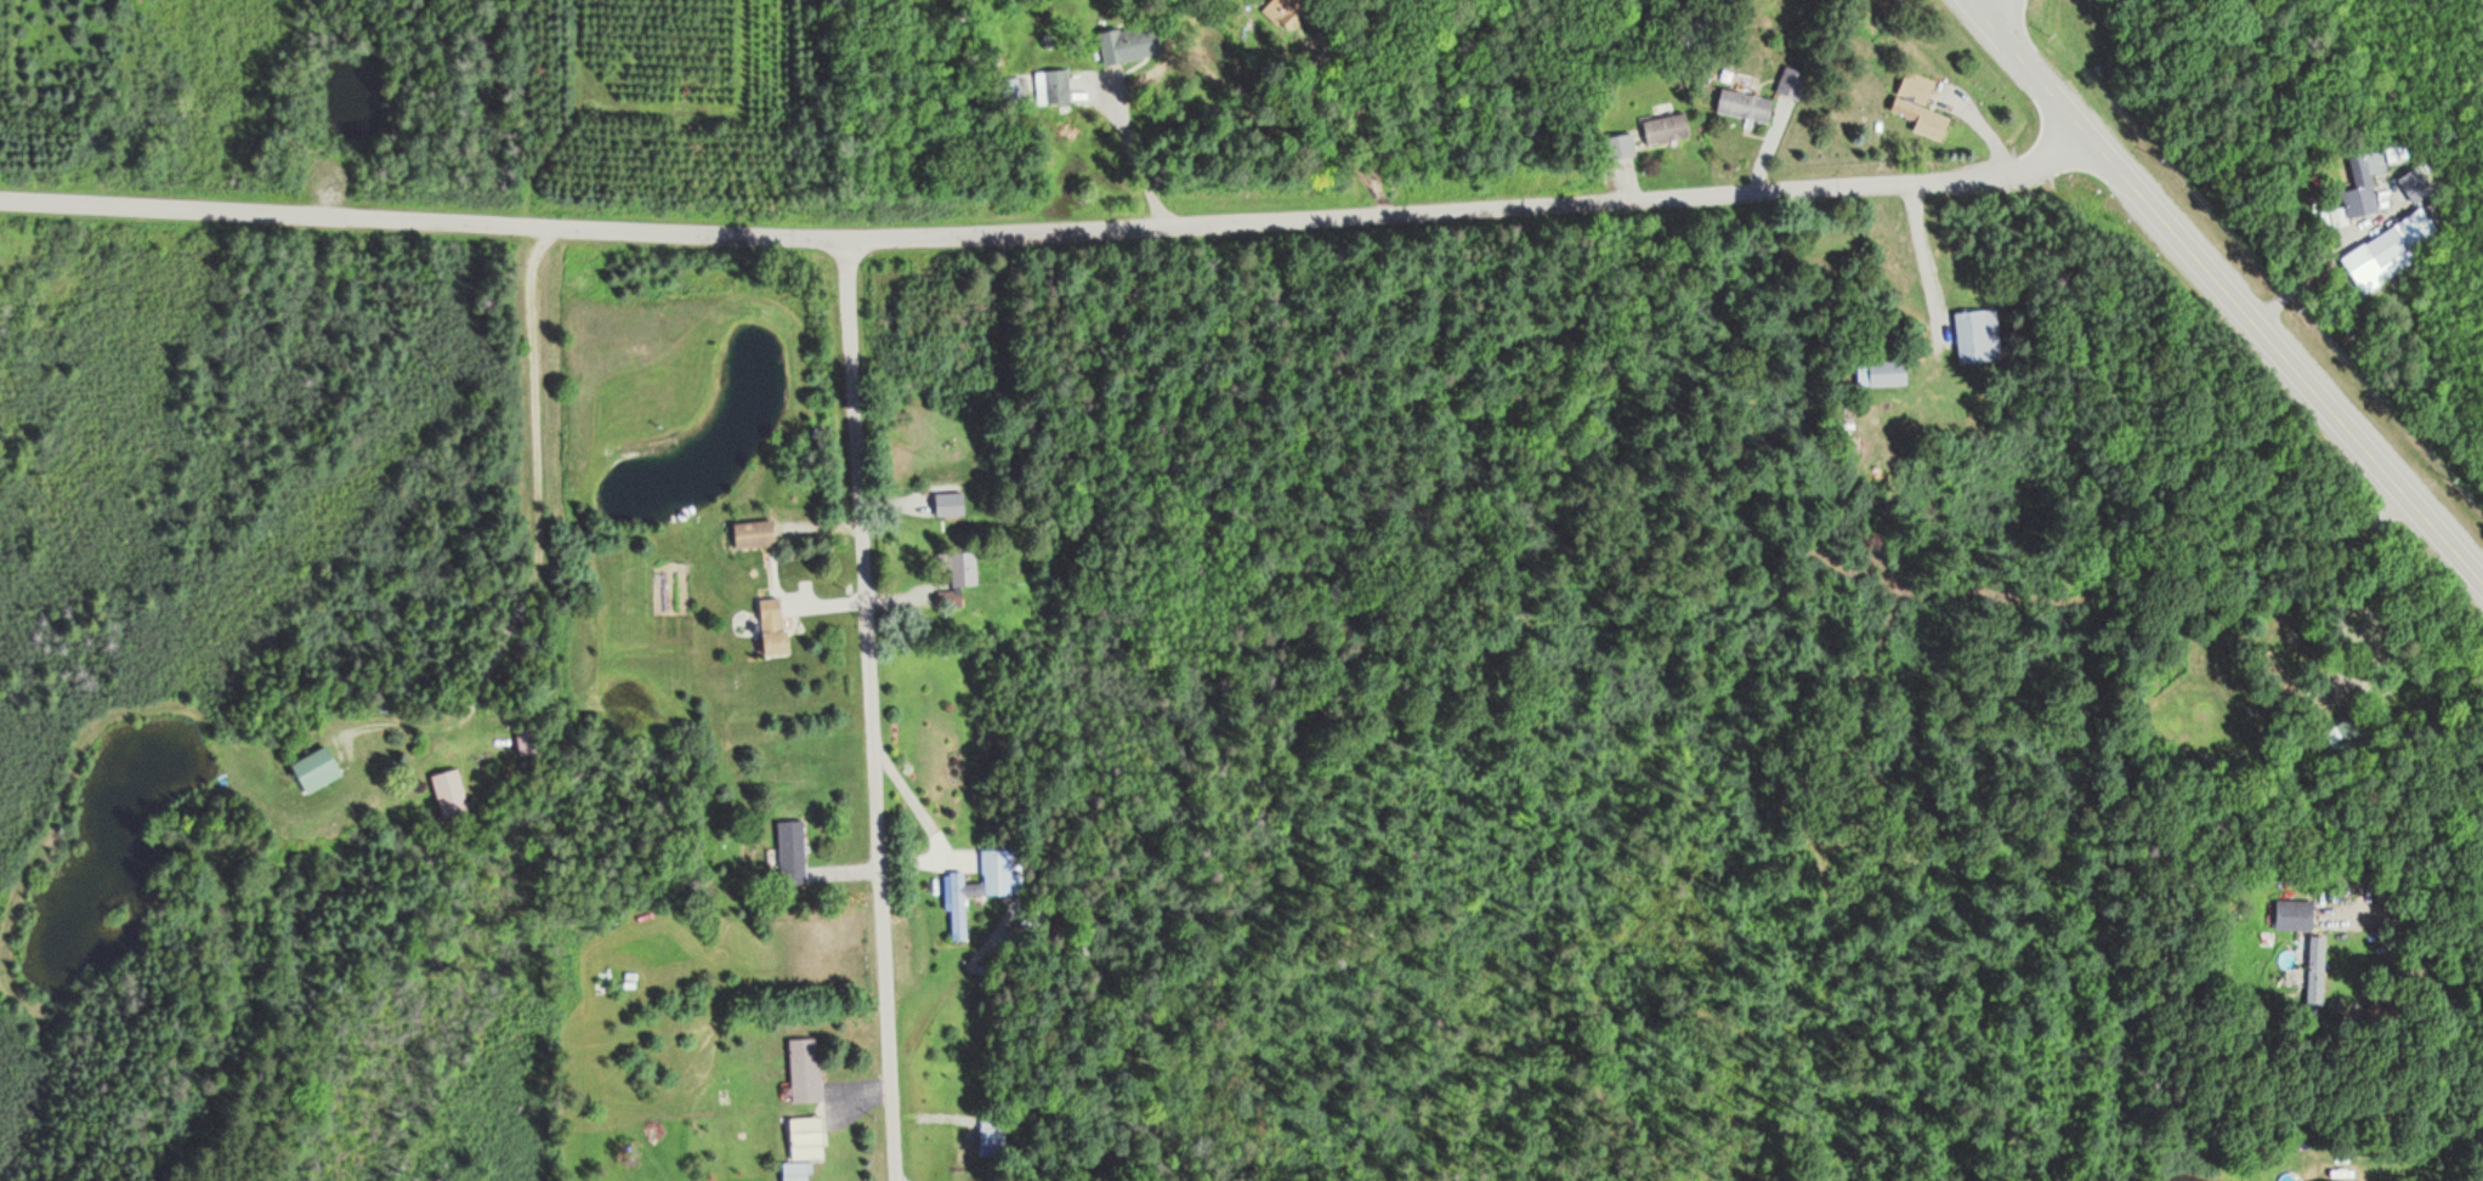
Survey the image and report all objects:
road: (1992, 8)
road: (1765, 158)
road: (1141, 168)
road: (1048, 232)
road: (1921, 254)
road: (2224, 294)
road: (540, 527)
road: (871, 710)

